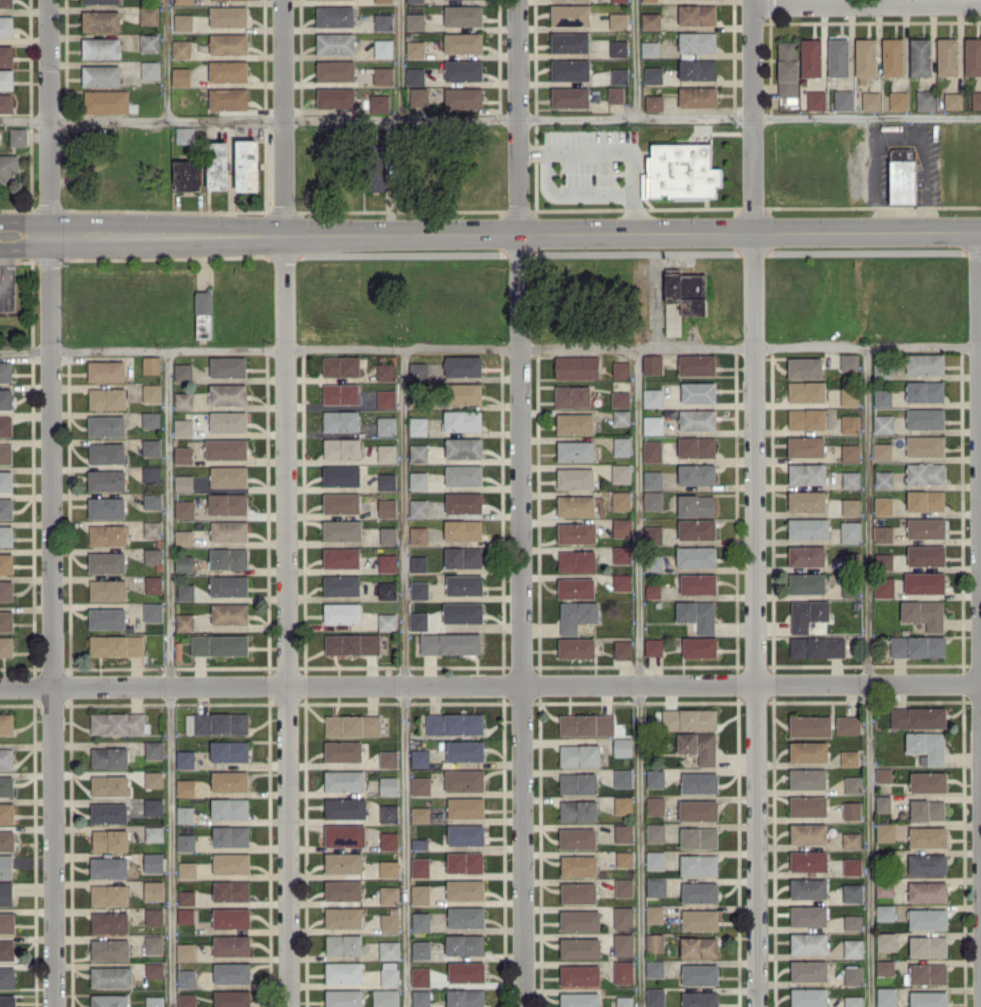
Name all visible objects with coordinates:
building: (649, 0)
building: (100, 1)
building: (183, 1)
building: (414, 1)
building: (6, 3)
road: (866, 4)
building: (696, 14)
building: (148, 15)
building: (334, 15)
building: (462, 15)
building: (569, 15)
building: (228, 16)
building: (100, 20)
building: (618, 20)
building: (650, 20)
building: (383, 21)
building: (414, 21)
building: (183, 22)
building: (6, 25)
building: (697, 41)
building: (148, 42)
building: (462, 42)
building: (569, 42)
building: (228, 43)
building: (335, 43)
building: (101, 47)
building: (617, 47)
building: (181, 48)
building: (383, 48)
building: (649, 48)
building: (415, 49)
building: (6, 55)
building: (865, 56)
building: (892, 56)
building: (920, 56)
building: (947, 56)
building: (972, 56)
building: (810, 57)
building: (838, 57)
road: (166, 58)
road: (401, 58)
road: (635, 58)
building: (149, 69)
building: (463, 69)
building: (570, 69)
building: (697, 69)
building: (335, 70)
building: (228, 71)
building: (787, 72)
building: (101, 75)
building: (382, 75)
building: (619, 75)
building: (653, 75)
building: (180, 76)
building: (414, 76)
building: (6, 79)
building: (615, 94)
building: (418, 96)
building: (697, 96)
building: (335, 97)
building: (463, 97)
building: (569, 97)
building: (228, 98)
building: (816, 99)
building: (843, 99)
building: (925, 99)
building: (976, 99)
building: (871, 100)
building: (898, 100)
building: (952, 100)
building: (106, 101)
building: (6, 102)
building: (379, 102)
building: (653, 102)
road: (753, 115)
road: (490, 117)
building: (184, 134)
building: (17, 136)
road: (895, 136)
road: (617, 149)
building: (246, 164)
building: (218, 165)
building: (8, 167)
building: (680, 172)
building: (374, 174)
building: (902, 174)
building: (188, 175)
road: (568, 195)
road: (490, 233)
road: (4, 264)
building: (682, 297)
building: (203, 314)
road: (490, 346)
building: (848, 361)
building: (924, 363)
building: (150, 364)
building: (652, 364)
building: (696, 364)
building: (341, 365)
building: (462, 365)
building: (227, 366)
building: (576, 366)
building: (804, 367)
building: (620, 369)
building: (5, 371)
building: (106, 371)
building: (385, 371)
building: (418, 371)
building: (182, 372)
building: (924, 390)
building: (698, 391)
building: (806, 391)
building: (151, 392)
building: (227, 393)
building: (340, 393)
building: (464, 393)
building: (572, 396)
building: (848, 396)
building: (882, 396)
building: (107, 397)
building: (652, 397)
building: (5, 398)
building: (386, 398)
building: (620, 398)
building: (183, 400)
building: (621, 417)
building: (806, 418)
building: (924, 418)
building: (150, 419)
building: (697, 419)
building: (340, 420)
building: (462, 420)
building: (228, 421)
building: (574, 423)
building: (849, 423)
building: (883, 423)
building: (652, 424)
building: (5, 425)
building: (106, 425)
building: (386, 425)
building: (417, 426)
building: (182, 427)
building: (621, 445)
building: (925, 445)
building: (696, 446)
building: (805, 446)
building: (150, 447)
building: (463, 447)
building: (226, 448)
building: (341, 448)
building: (575, 450)
building: (652, 450)
building: (881, 451)
building: (106, 452)
building: (418, 452)
building: (850, 452)
building: (5, 453)
building: (386, 453)
building: (183, 454)
building: (924, 472)
building: (620, 473)
building: (807, 473)
building: (150, 474)
building: (463, 474)
building: (696, 474)
building: (341, 475)
building: (228, 476)
building: (575, 478)
building: (883, 478)
building: (652, 479)
building: (850, 479)
building: (6, 480)
building: (105, 480)
building: (418, 480)
building: (386, 481)
building: (183, 482)
building: (652, 499)
building: (151, 500)
building: (620, 500)
building: (806, 500)
building: (925, 500)
building: (341, 502)
building: (463, 502)
road: (49, 503)
building: (227, 503)
road: (283, 503)
road: (519, 503)
building: (575, 505)
building: (695, 505)
building: (882, 505)
building: (850, 506)
building: (6, 507)
building: (106, 507)
building: (386, 507)
building: (418, 507)
building: (183, 508)
building: (621, 527)
building: (925, 527)
building: (808, 528)
building: (151, 529)
building: (462, 529)
building: (696, 529)
building: (228, 530)
building: (341, 530)
building: (850, 531)
building: (576, 532)
building: (882, 533)
building: (107, 534)
building: (418, 534)
building: (652, 534)
building: (6, 535)
building: (387, 535)
building: (183, 537)
building: (621, 554)
building: (152, 555)
building: (696, 555)
building: (805, 555)
building: (925, 555)
building: (341, 557)
building: (463, 557)
building: (227, 558)
building: (576, 560)
building: (883, 560)
building: (106, 562)
building: (386, 562)
building: (417, 562)
building: (652, 562)
building: (6, 563)
building: (183, 563)
building: (621, 581)
building: (924, 582)
building: (698, 583)
building: (806, 583)
building: (152, 584)
building: (341, 584)
building: (464, 584)
building: (228, 585)
building: (575, 587)
building: (883, 587)
building: (107, 589)
building: (419, 589)
building: (6, 590)
building: (386, 590)
building: (185, 591)
building: (652, 591)
building: (152, 611)
building: (341, 612)
building: (462, 612)
building: (229, 613)
building: (807, 613)
building: (923, 613)
building: (697, 614)
building: (576, 615)
building: (106, 618)
road: (979, 618)
road: (755, 619)
building: (418, 620)
building: (6, 621)
building: (184, 621)
building: (387, 621)
building: (351, 643)
building: (450, 643)
building: (219, 644)
building: (116, 645)
building: (5, 646)
building: (653, 646)
building: (816, 646)
building: (917, 646)
building: (575, 647)
building: (699, 647)
building: (622, 649)
road: (865, 675)
road: (404, 676)
road: (639, 676)
road: (167, 677)
road: (490, 685)
building: (918, 717)
building: (688, 719)
building: (117, 722)
building: (6, 723)
building: (216, 723)
building: (454, 723)
building: (586, 724)
building: (847, 724)
building: (352, 725)
building: (810, 725)
building: (622, 746)
building: (698, 746)
building: (926, 746)
building: (153, 749)
building: (229, 750)
building: (465, 750)
building: (342, 751)
building: (808, 751)
building: (579, 755)
building: (6, 757)
building: (108, 757)
building: (849, 757)
building: (387, 758)
building: (419, 758)
building: (184, 759)
building: (883, 774)
building: (622, 777)
building: (654, 777)
building: (153, 778)
building: (807, 778)
building: (464, 779)
building: (229, 780)
building: (344, 780)
building: (927, 781)
building: (578, 782)
building: (698, 782)
building: (852, 784)
building: (6, 785)
building: (109, 785)
building: (388, 785)
building: (420, 785)
building: (184, 787)
building: (882, 803)
building: (622, 804)
building: (655, 805)
building: (807, 805)
building: (153, 806)
building: (465, 807)
building: (229, 808)
building: (344, 808)
building: (927, 809)
building: (578, 810)
building: (697, 810)
building: (851, 810)
building: (7, 812)
building: (108, 812)
building: (388, 813)
building: (184, 814)
building: (419, 814)
building: (885, 831)
building: (623, 832)
building: (655, 832)
building: (154, 833)
building: (808, 833)
building: (465, 834)
building: (230, 835)
building: (344, 835)
building: (927, 836)
building: (698, 837)
building: (577, 838)
building: (110, 839)
building: (851, 839)
building: (7, 840)
building: (388, 840)
building: (185, 842)
building: (419, 843)
building: (623, 858)
building: (655, 859)
building: (808, 860)
building: (464, 861)
building: (153, 862)
building: (343, 862)
building: (230, 863)
building: (927, 863)
building: (698, 864)
building: (578, 865)
building: (5, 866)
building: (420, 866)
building: (851, 866)
building: (108, 867)
building: (388, 868)
building: (186, 869)
building: (655, 886)
building: (623, 887)
building: (807, 888)
building: (884, 888)
building: (153, 889)
building: (465, 889)
building: (230, 890)
building: (342, 890)
building: (927, 891)
building: (578, 892)
building: (699, 892)
building: (852, 892)
building: (5, 893)
building: (109, 894)
building: (420, 894)
building: (388, 895)
building: (186, 897)
building: (884, 912)
building: (653, 913)
building: (185, 915)
building: (808, 915)
building: (153, 916)
building: (465, 916)
building: (623, 916)
building: (231, 917)
building: (343, 917)
building: (927, 918)
building: (699, 919)
building: (389, 920)
building: (579, 920)
building: (109, 921)
building: (420, 921)
building: (852, 921)
building: (7, 922)
building: (886, 941)
building: (654, 942)
building: (808, 942)
building: (153, 943)
building: (343, 944)
building: (464, 944)
building: (623, 944)
building: (231, 945)
building: (927, 946)
building: (579, 947)
building: (698, 947)
building: (852, 947)
building: (109, 949)
building: (388, 949)
building: (420, 949)
building: (6, 950)
building: (185, 951)
building: (884, 967)
building: (654, 968)
building: (154, 969)
building: (808, 970)
building: (343, 971)
building: (466, 971)
building: (623, 971)
building: (231, 972)
building: (389, 973)
building: (927, 973)
building: (699, 974)
building: (852, 974)
building: (579, 975)
building: (111, 976)
building: (420, 976)
building: (7, 977)
building: (186, 978)
building: (885, 996)
building: (385, 997)
building: (465, 997)
building: (654, 997)
building: (808, 997)
building: (231, 998)
building: (343, 998)
building: (420, 998)
building: (928, 998)
building: (186, 999)
building: (579, 999)
building: (699, 999)
building: (7, 1000)
building: (108, 1000)
building: (154, 1001)
building: (624, 1001)
building: (853, 1001)

